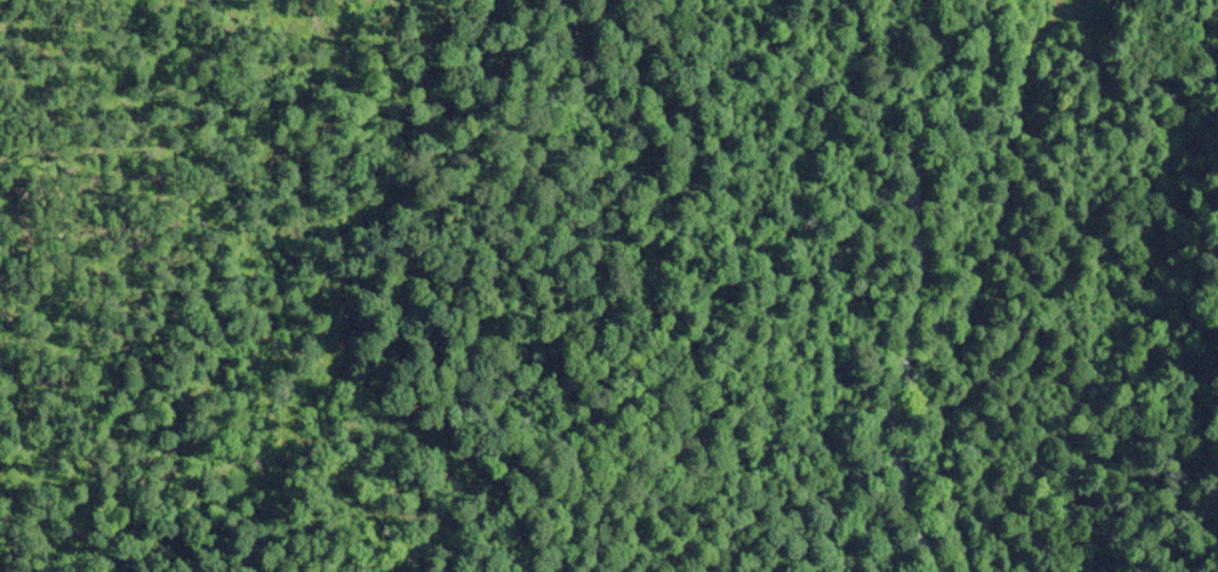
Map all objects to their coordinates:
road: (860, 287)

